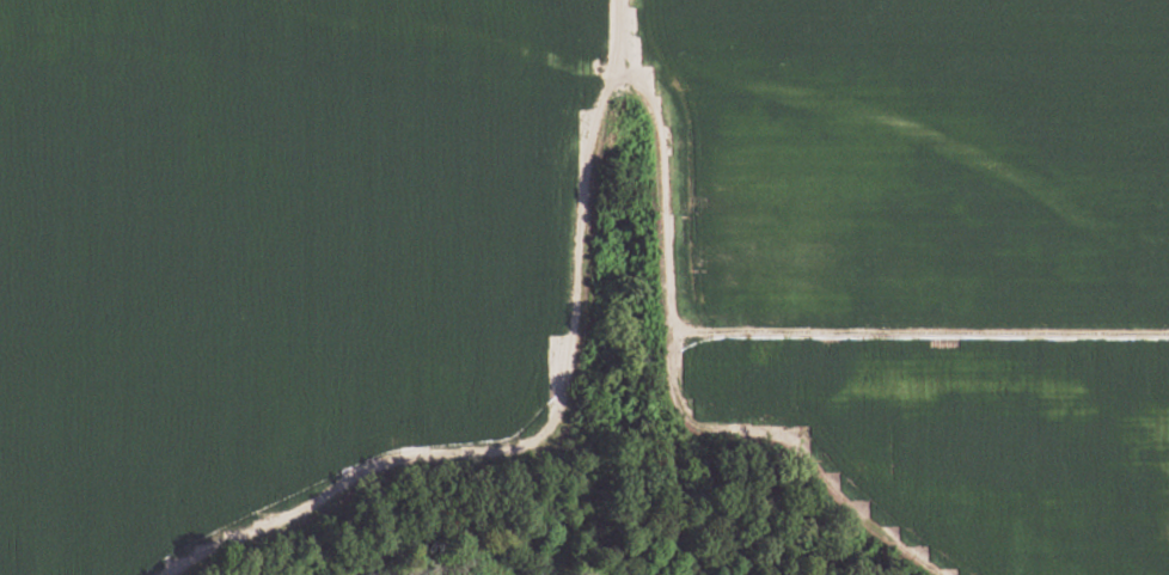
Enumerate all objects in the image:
road: (743, 330)

